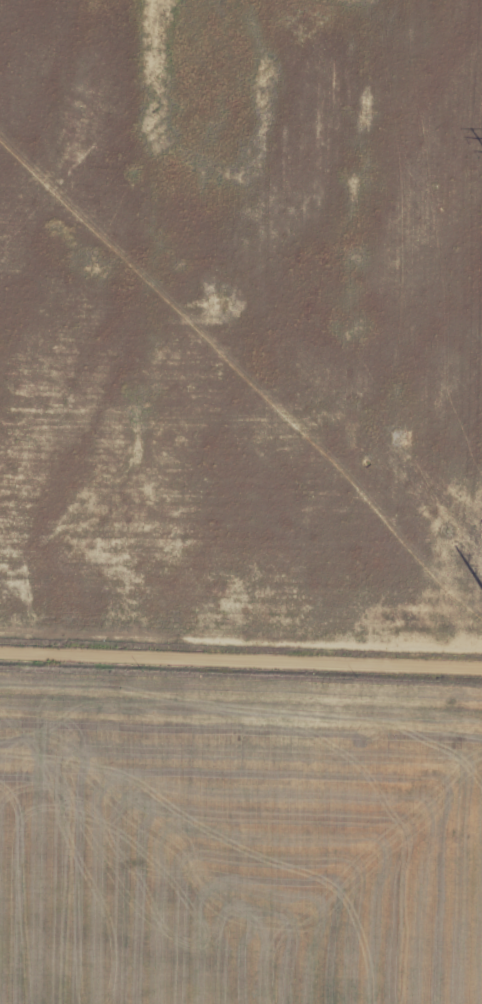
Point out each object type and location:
road: (240, 657)

